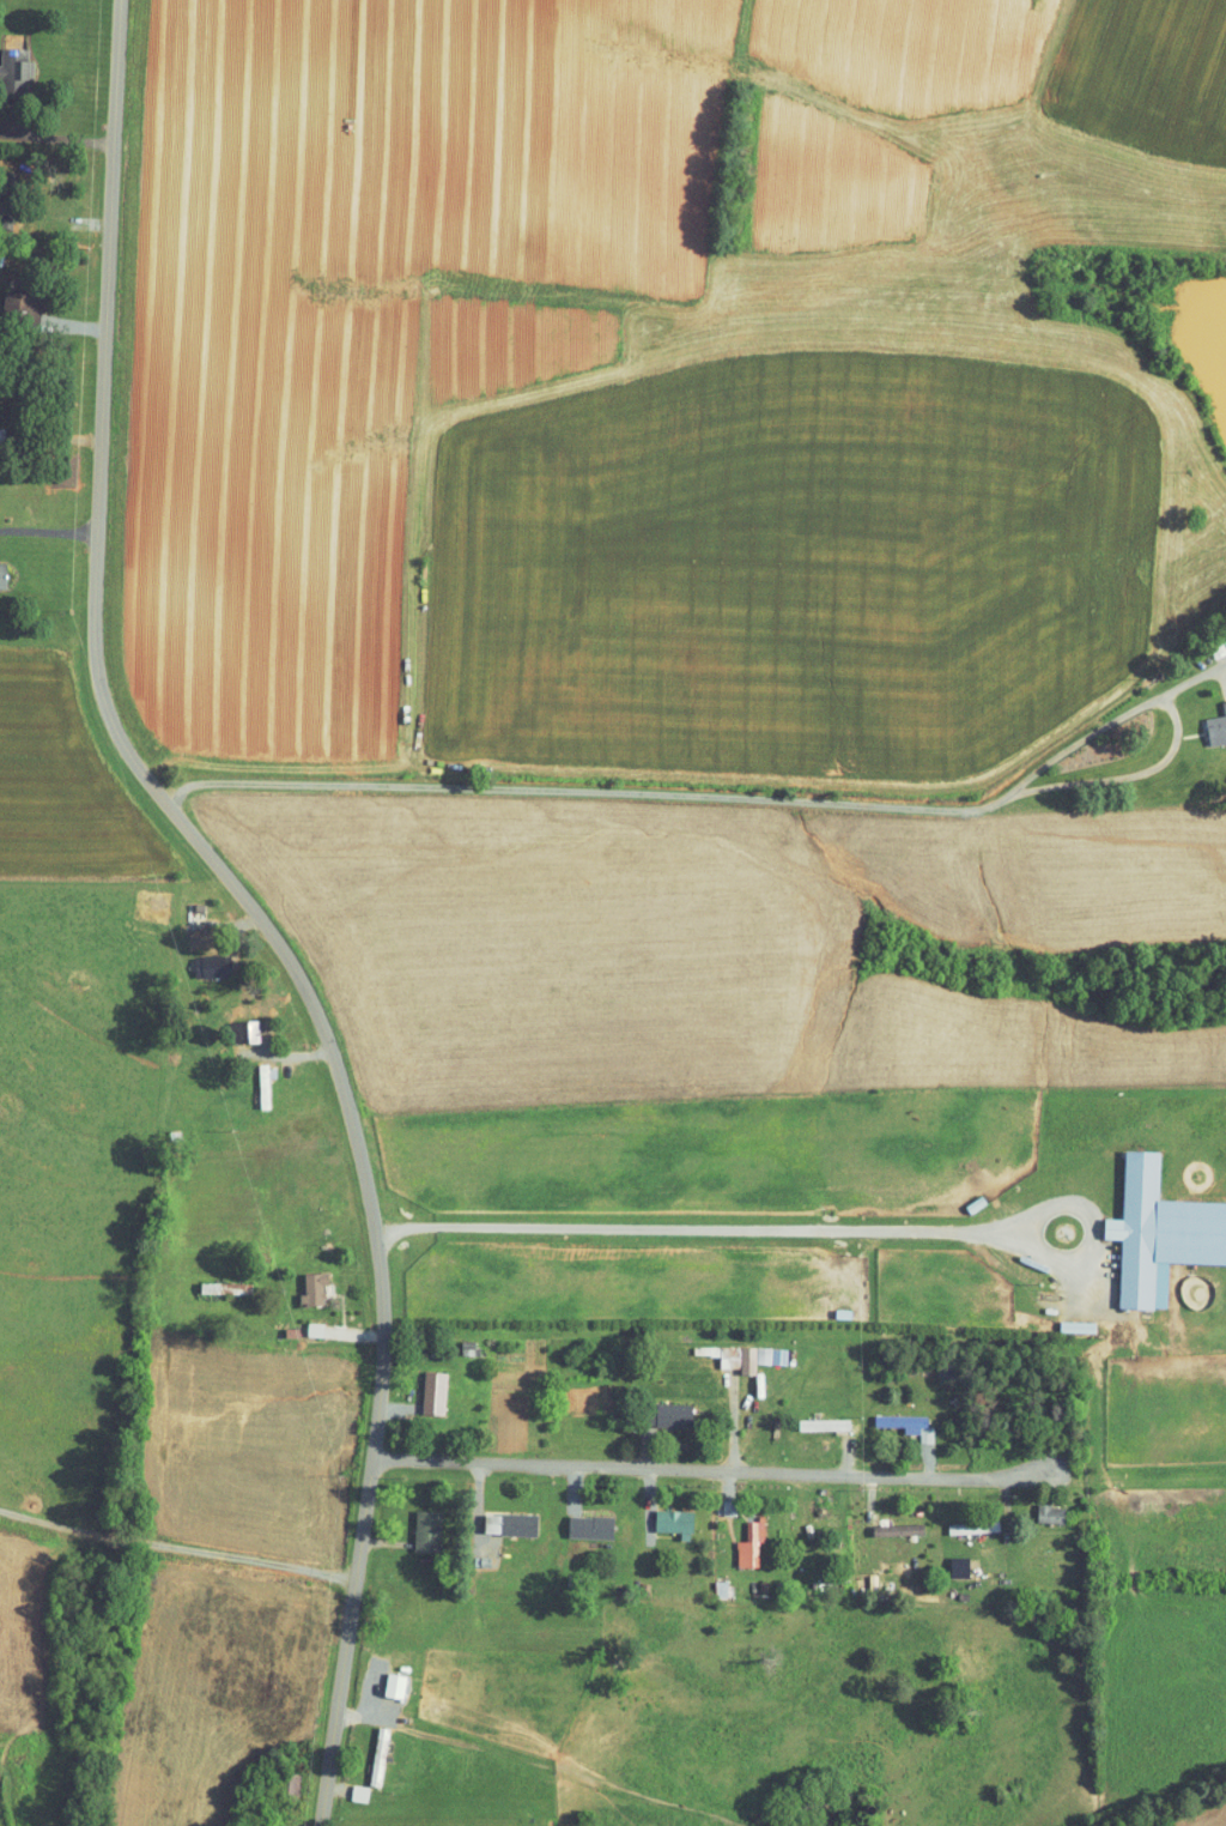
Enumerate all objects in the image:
building: (8, 65)
building: (14, 294)
road: (47, 646)
building: (1212, 718)
road: (547, 870)
road: (247, 901)
building: (1152, 1226)
building: (212, 1280)
building: (301, 1280)
building: (302, 1322)
building: (738, 1350)
building: (421, 1385)
building: (661, 1408)
building: (814, 1416)
building: (894, 1417)
road: (732, 1467)
building: (1037, 1505)
building: (662, 1514)
building: (498, 1517)
building: (577, 1519)
building: (960, 1519)
building: (886, 1522)
building: (414, 1523)
building: (736, 1537)
road: (176, 1546)
building: (946, 1559)
park: (30, 1673)
building: (382, 1677)
building: (346, 1786)

